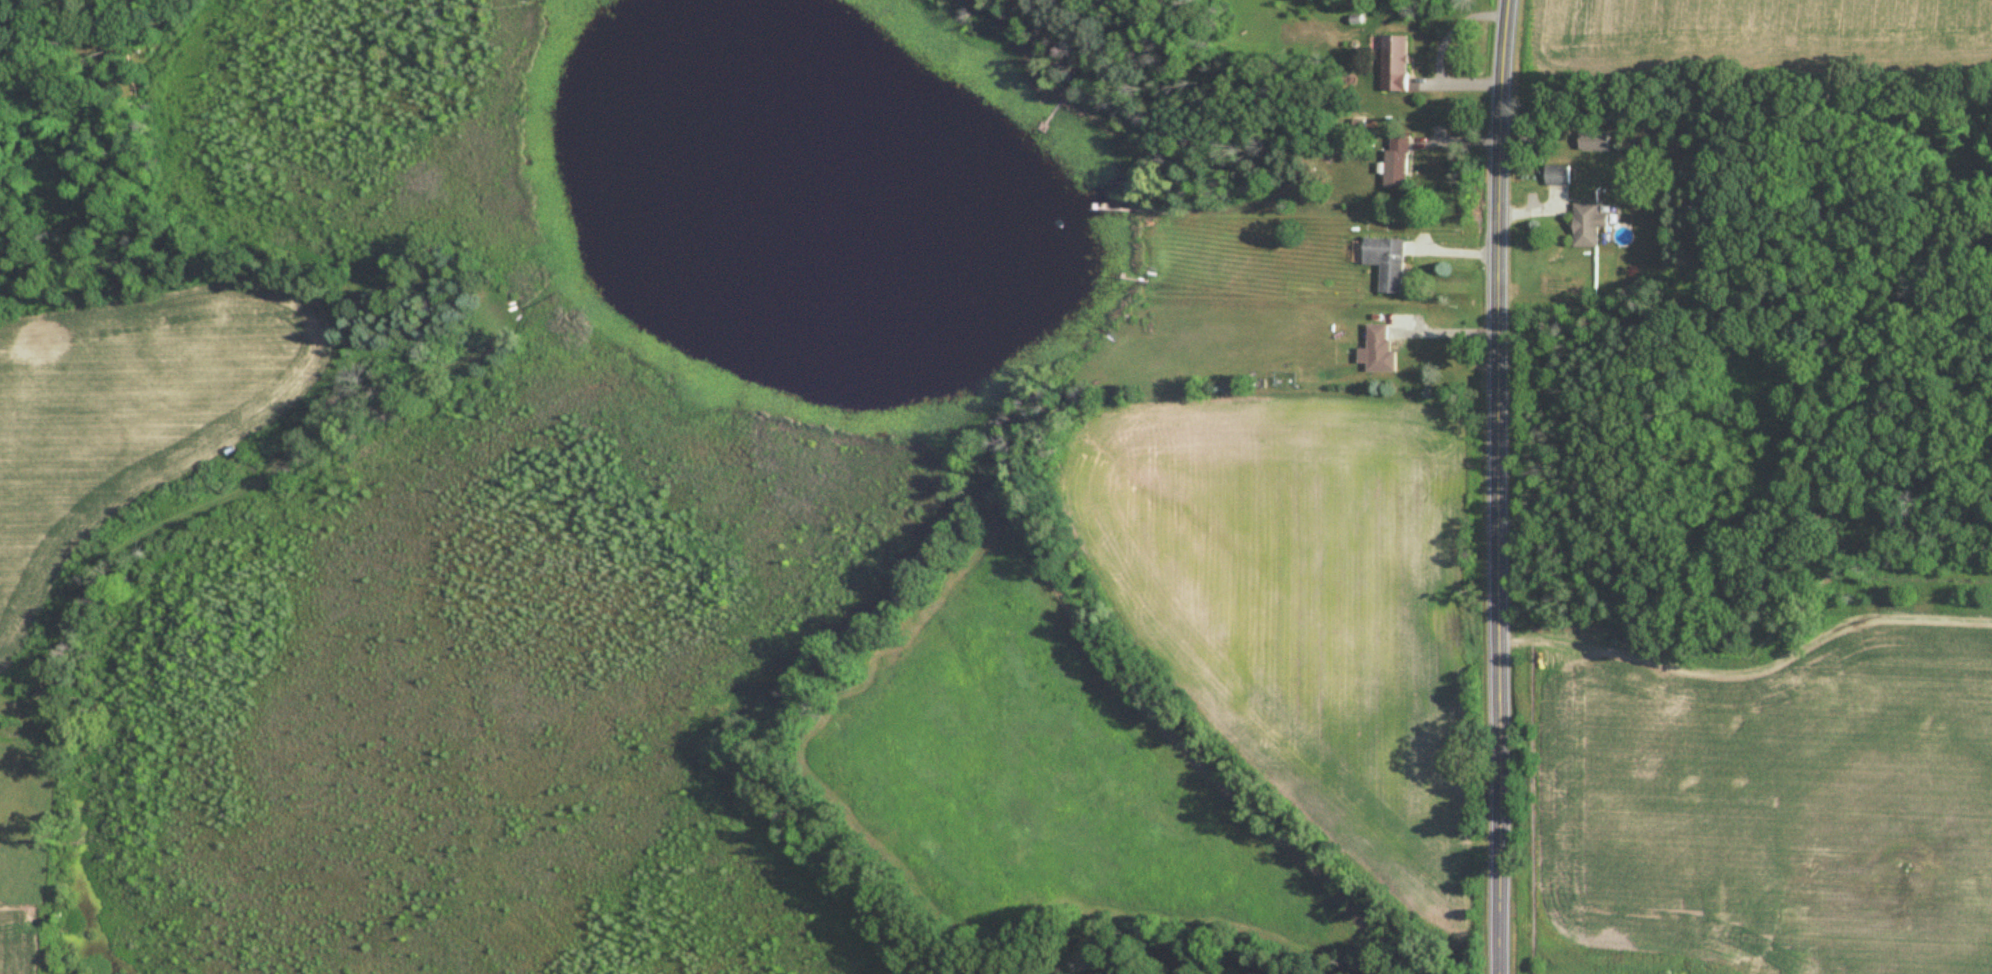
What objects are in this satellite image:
building: (1395, 64)
building: (1596, 142)
building: (1397, 163)
building: (1557, 176)
building: (1587, 226)
building: (1386, 264)
building: (1378, 352)
road: (1496, 486)

